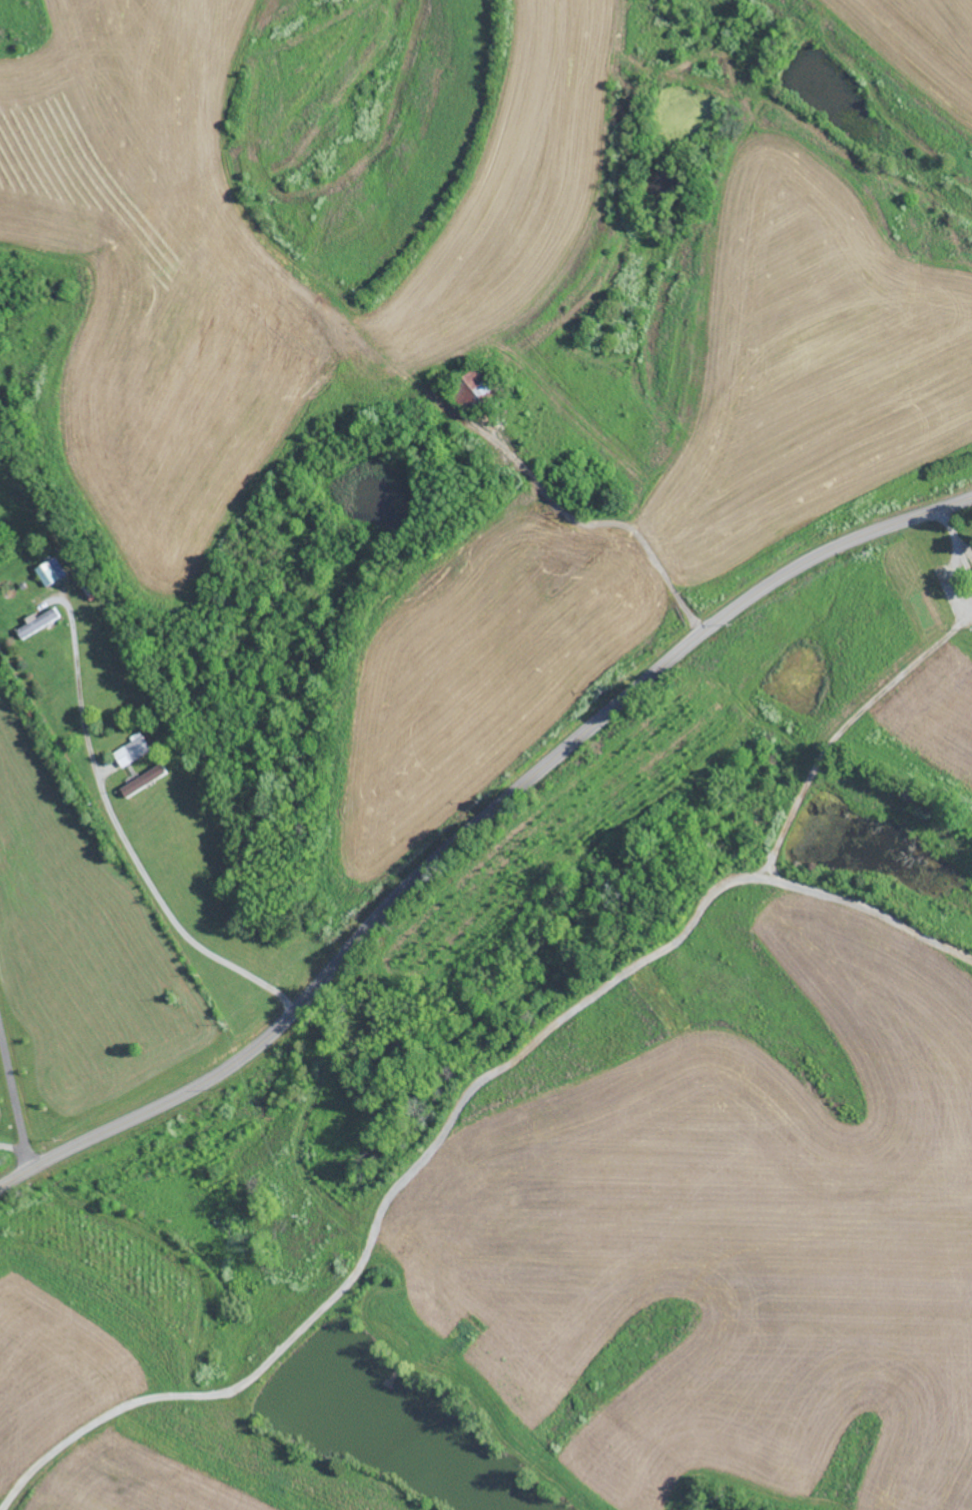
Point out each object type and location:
building: (479, 382)
building: (38, 622)
road: (889, 688)
building: (133, 750)
building: (145, 780)
road: (473, 831)
road: (127, 845)
road: (12, 1089)
road: (21, 1151)

